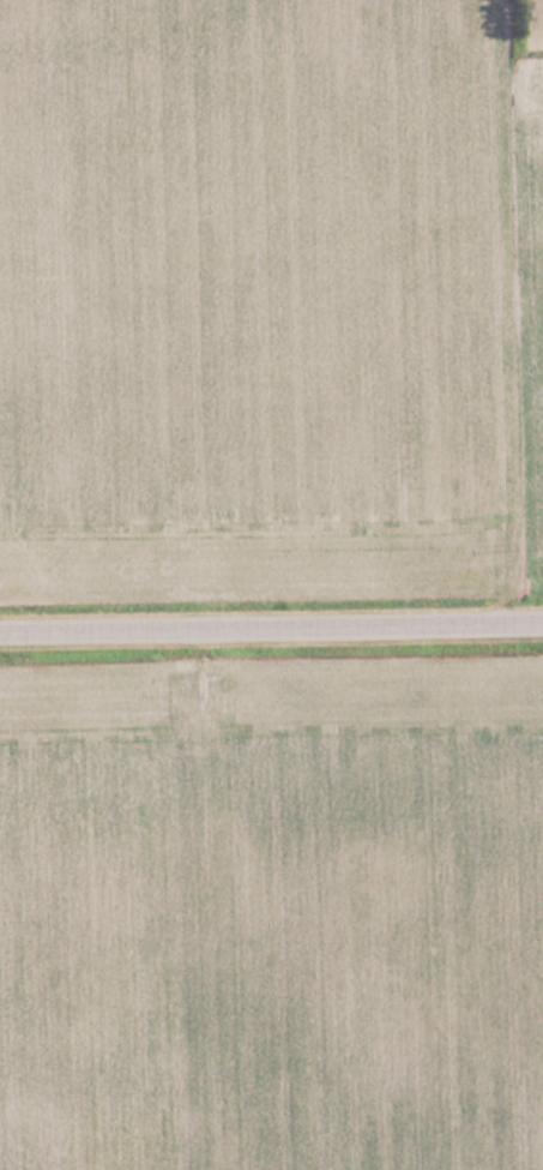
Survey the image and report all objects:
road: (271, 630)

